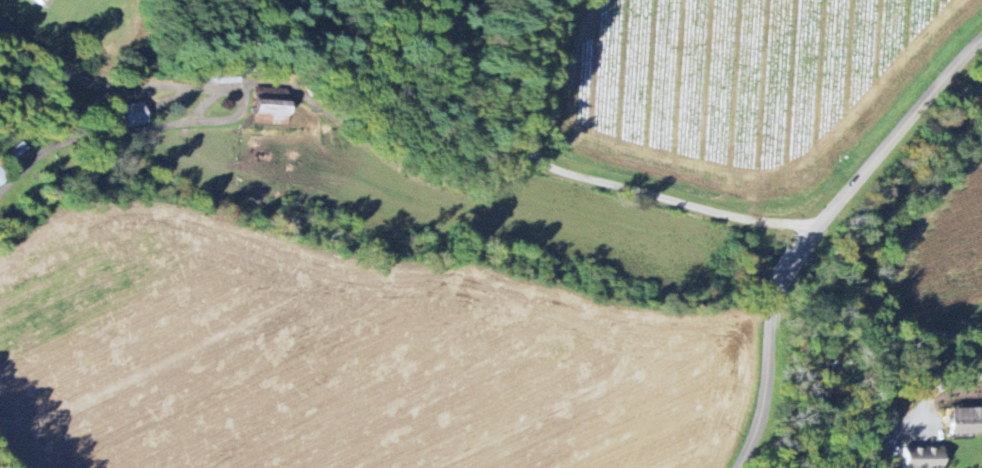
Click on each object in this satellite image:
building: (45, 2)
road: (241, 101)
building: (135, 114)
road: (884, 145)
building: (15, 152)
building: (2, 177)
road: (593, 178)
river: (903, 179)
road: (788, 262)
road: (766, 370)
river: (827, 380)
road: (942, 382)
building: (962, 420)
building: (919, 457)
road: (8, 460)

